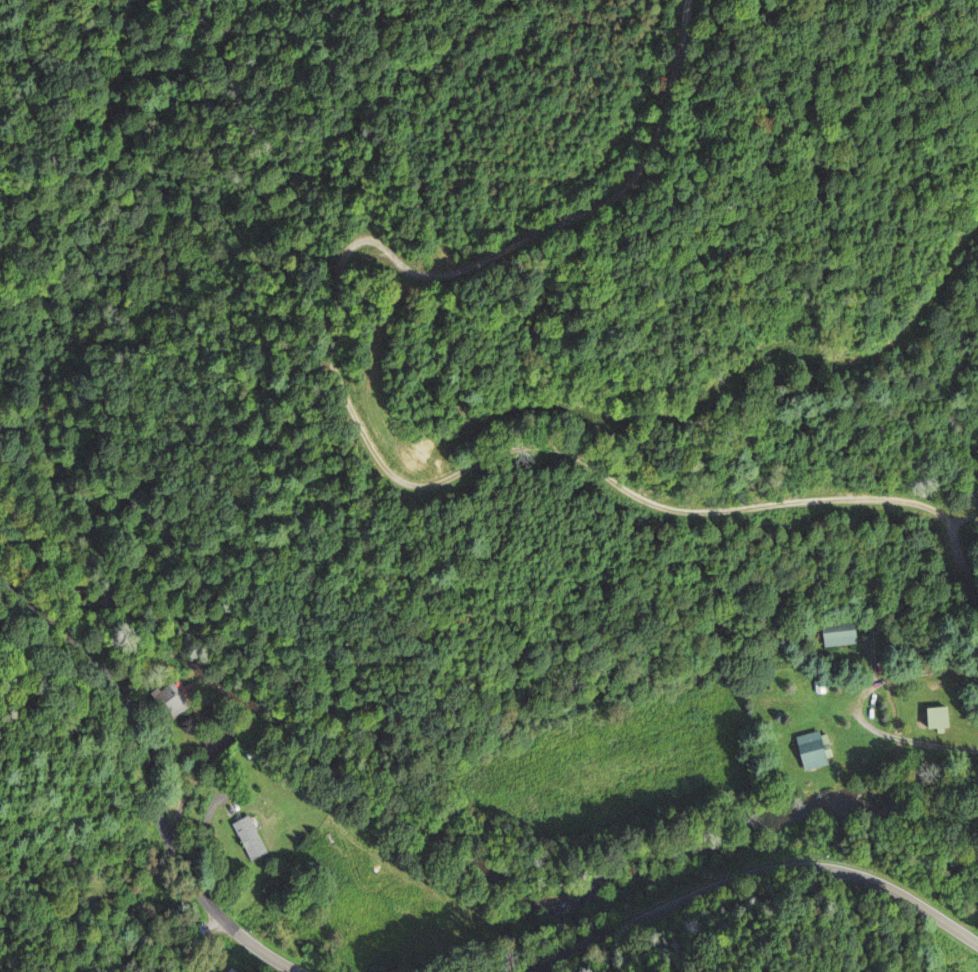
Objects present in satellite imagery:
road: (368, 445)
building: (839, 634)
road: (906, 678)
building: (170, 700)
building: (938, 718)
road: (140, 735)
building: (815, 750)
building: (249, 838)
road: (775, 869)
road: (254, 950)
road: (543, 961)
building: (233, 970)

